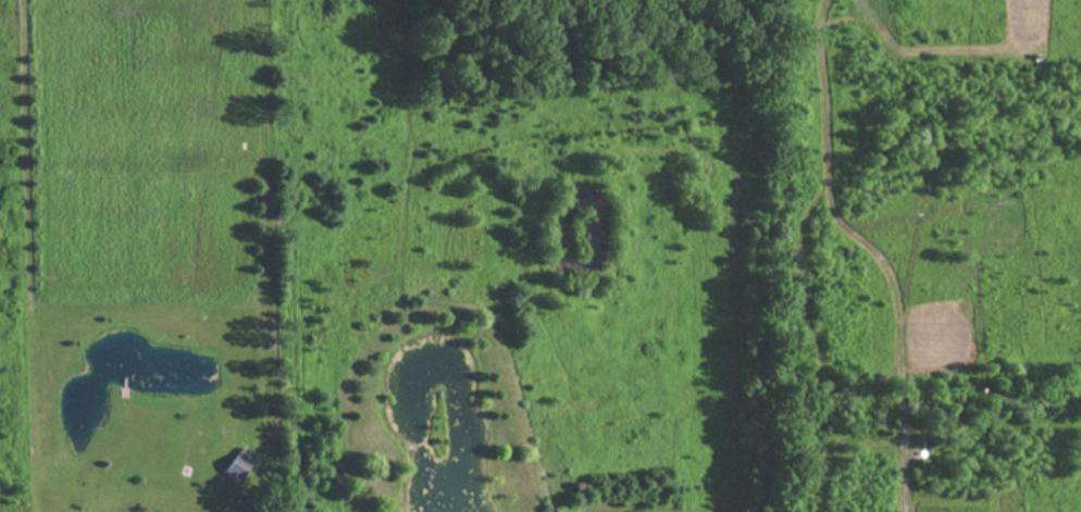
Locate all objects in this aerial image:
building: (237, 463)

